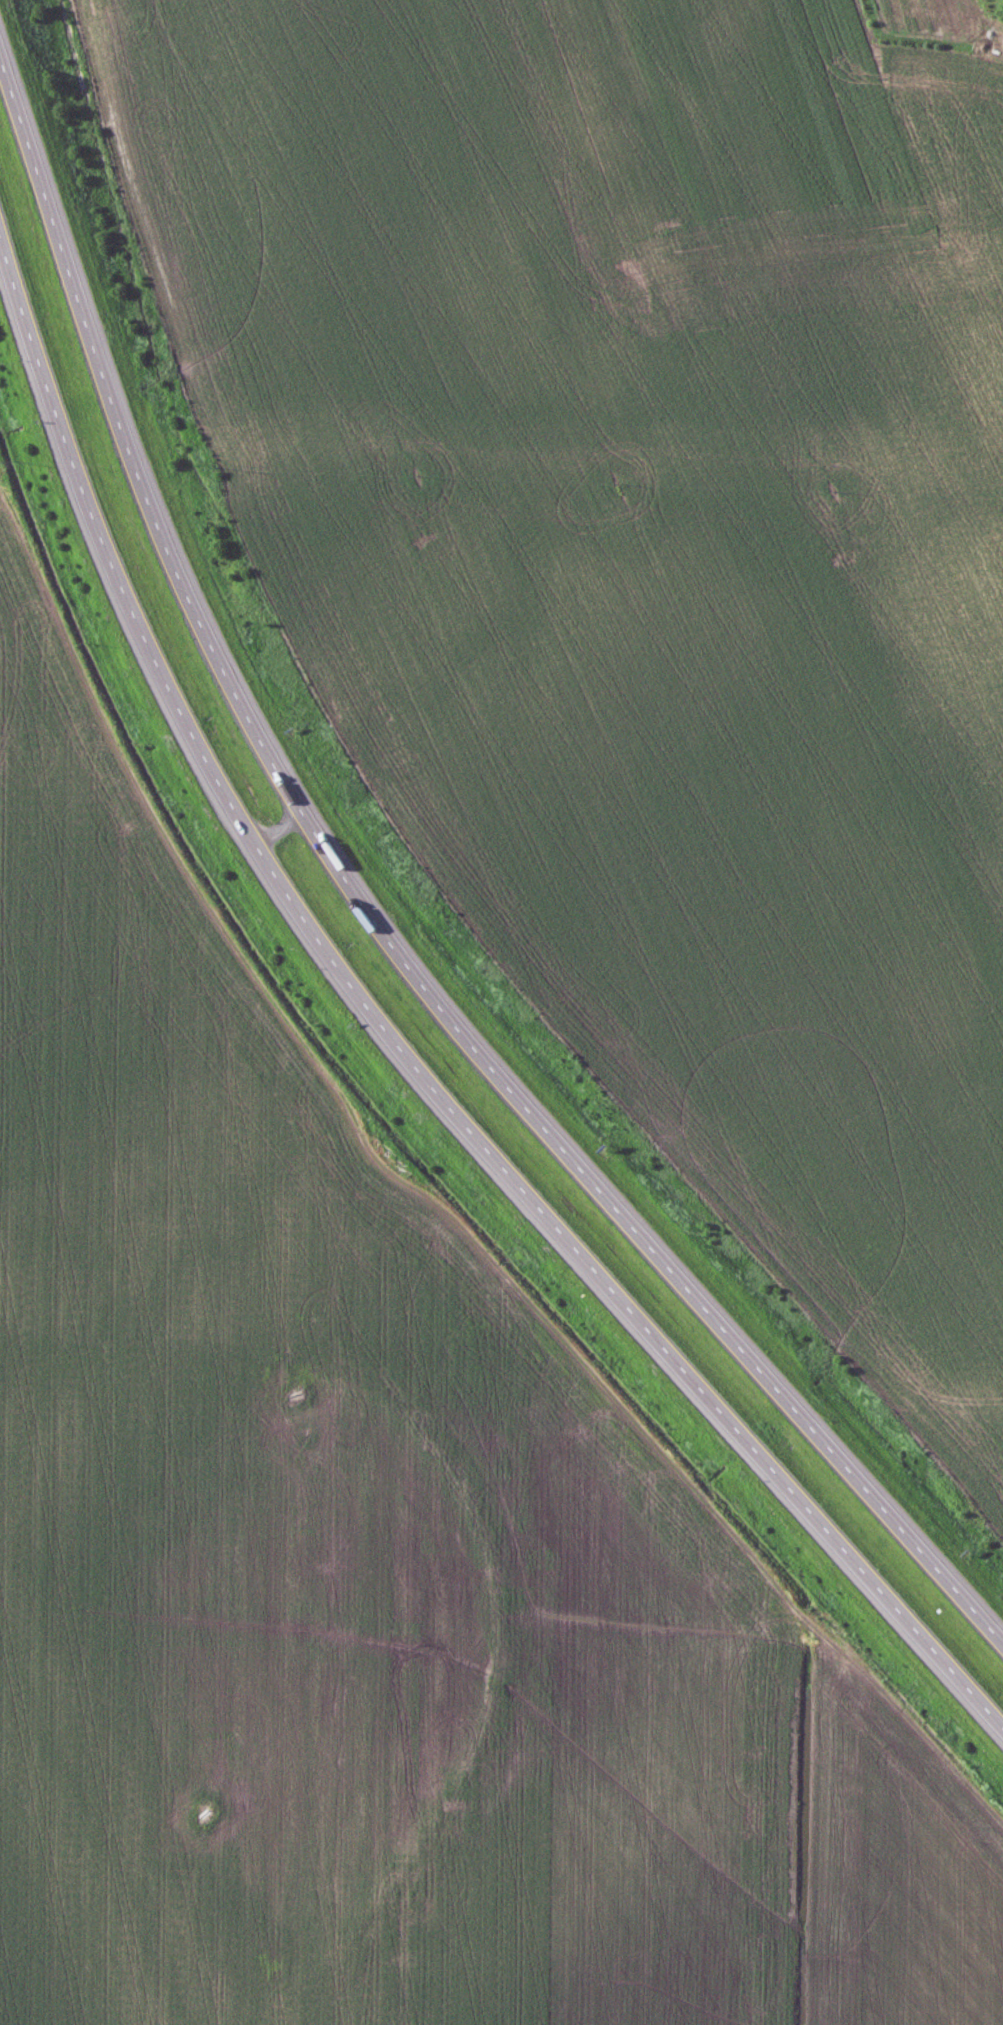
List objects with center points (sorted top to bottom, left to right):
road: (379, 921)
road: (399, 1052)

